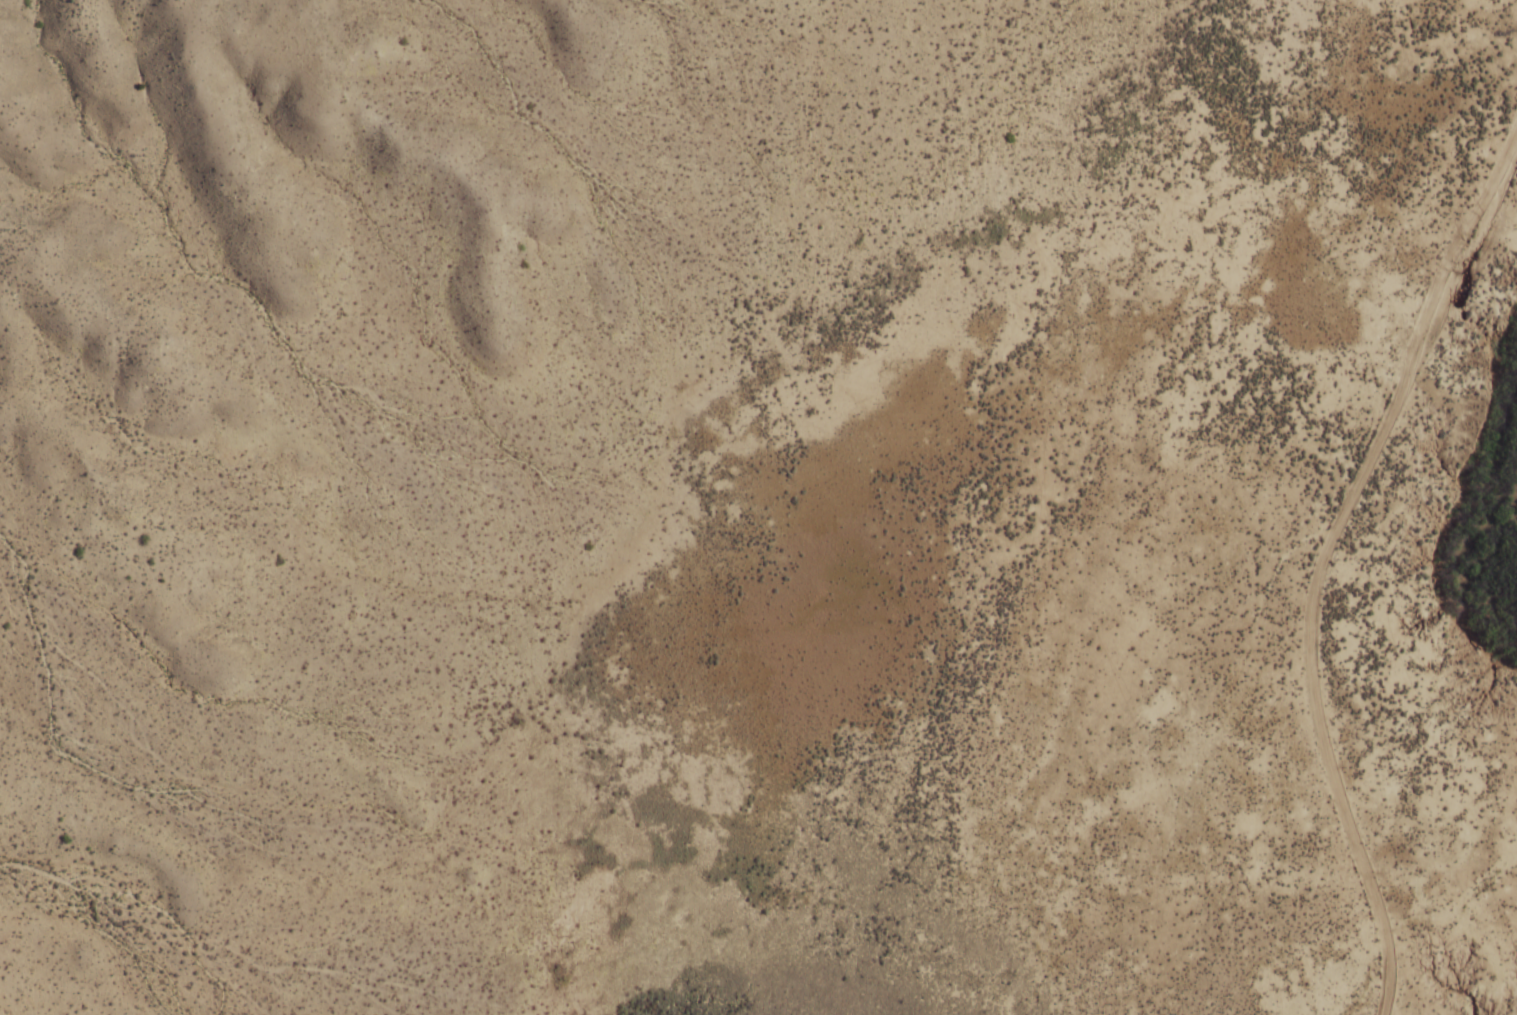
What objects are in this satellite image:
road: (1319, 563)

